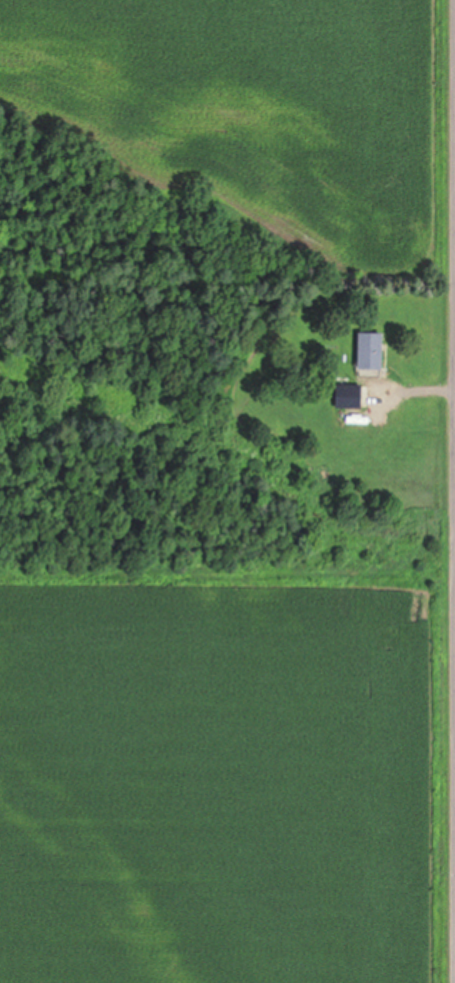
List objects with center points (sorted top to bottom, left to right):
building: (376, 348)
building: (354, 394)

